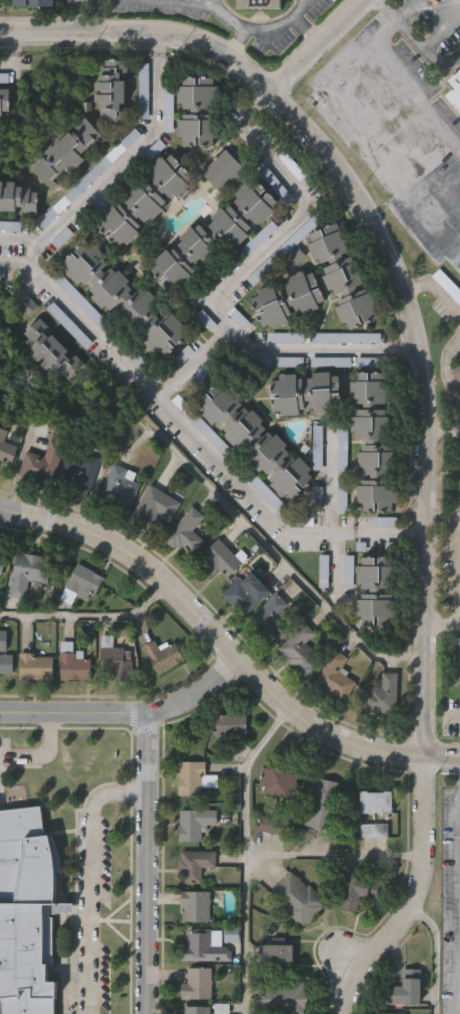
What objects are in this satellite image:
building: (0, 2)
building: (36, 4)
building: (262, 4)
road: (80, 16)
road: (232, 22)
road: (280, 27)
road: (305, 29)
road: (442, 31)
road: (156, 44)
road: (316, 46)
road: (421, 47)
road: (20, 57)
road: (406, 76)
building: (115, 93)
building: (456, 95)
building: (5, 102)
building: (197, 111)
road: (242, 121)
building: (70, 155)
building: (227, 168)
road: (109, 172)
building: (18, 196)
building: (142, 199)
building: (217, 234)
road: (34, 254)
road: (392, 262)
building: (346, 273)
road: (436, 285)
building: (448, 286)
building: (290, 297)
building: (127, 298)
building: (25, 300)
road: (215, 301)
building: (52, 349)
road: (404, 349)
road: (194, 361)
road: (444, 368)
building: (457, 371)
building: (303, 393)
road: (455, 416)
road: (444, 425)
road: (187, 428)
building: (253, 440)
building: (377, 440)
building: (7, 447)
building: (43, 463)
building: (79, 473)
road: (329, 481)
building: (121, 487)
building: (158, 505)
building: (187, 531)
road: (414, 534)
building: (219, 559)
road: (282, 561)
building: (2, 562)
building: (29, 573)
building: (320, 573)
building: (345, 573)
building: (83, 582)
building: (248, 592)
building: (378, 592)
road: (88, 614)
building: (273, 619)
road: (443, 621)
road: (211, 635)
building: (3, 640)
building: (301, 650)
building: (168, 653)
building: (117, 659)
building: (458, 661)
building: (74, 662)
building: (6, 663)
building: (36, 667)
building: (337, 676)
building: (382, 695)
building: (159, 698)
building: (293, 698)
building: (110, 703)
building: (4, 706)
building: (69, 708)
building: (31, 709)
road: (454, 715)
road: (126, 718)
building: (331, 719)
building: (234, 725)
building: (377, 739)
road: (38, 751)
road: (443, 758)
building: (227, 770)
building: (193, 778)
building: (281, 781)
building: (379, 802)
building: (325, 803)
building: (193, 825)
building: (275, 826)
building: (375, 831)
building: (371, 844)
building: (316, 846)
road: (261, 851)
building: (197, 864)
road: (151, 865)
building: (263, 867)
building: (370, 873)
road: (92, 877)
building: (359, 892)
road: (458, 896)
building: (299, 898)
road: (416, 899)
building: (197, 906)
building: (28, 912)
road: (245, 927)
building: (352, 934)
building: (293, 940)
building: (206, 947)
building: (279, 955)
building: (227, 977)
building: (199, 984)
building: (407, 989)
building: (284, 998)
building: (198, 1010)
building: (407, 1012)

